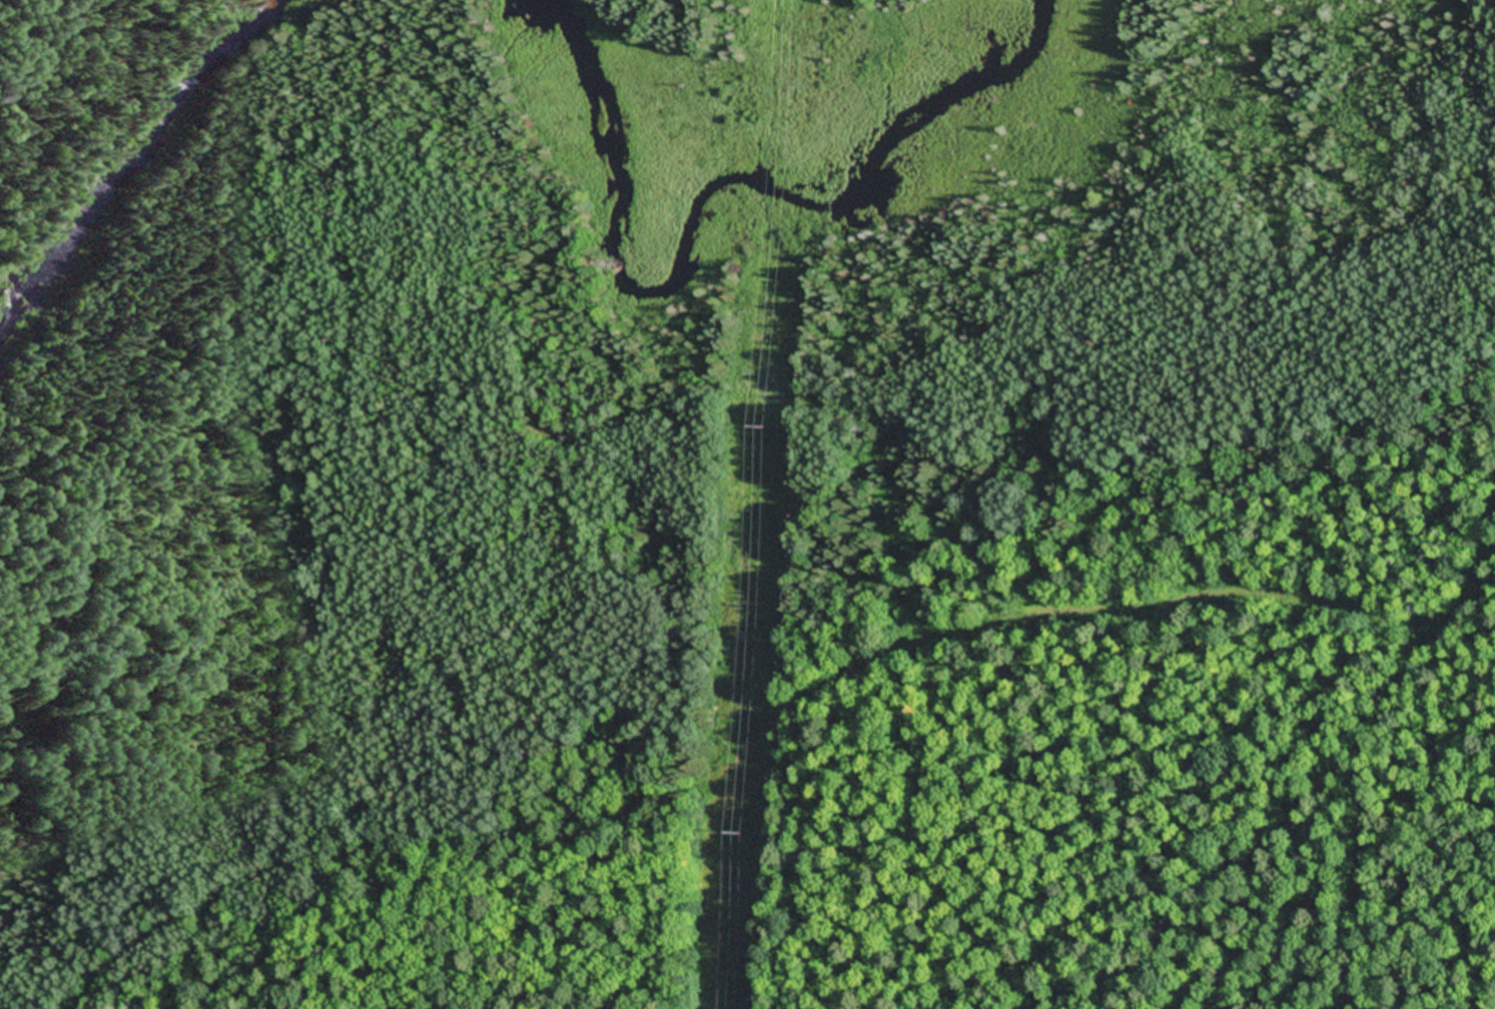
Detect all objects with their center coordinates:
power tower: (768, 428)
power tower: (737, 835)

